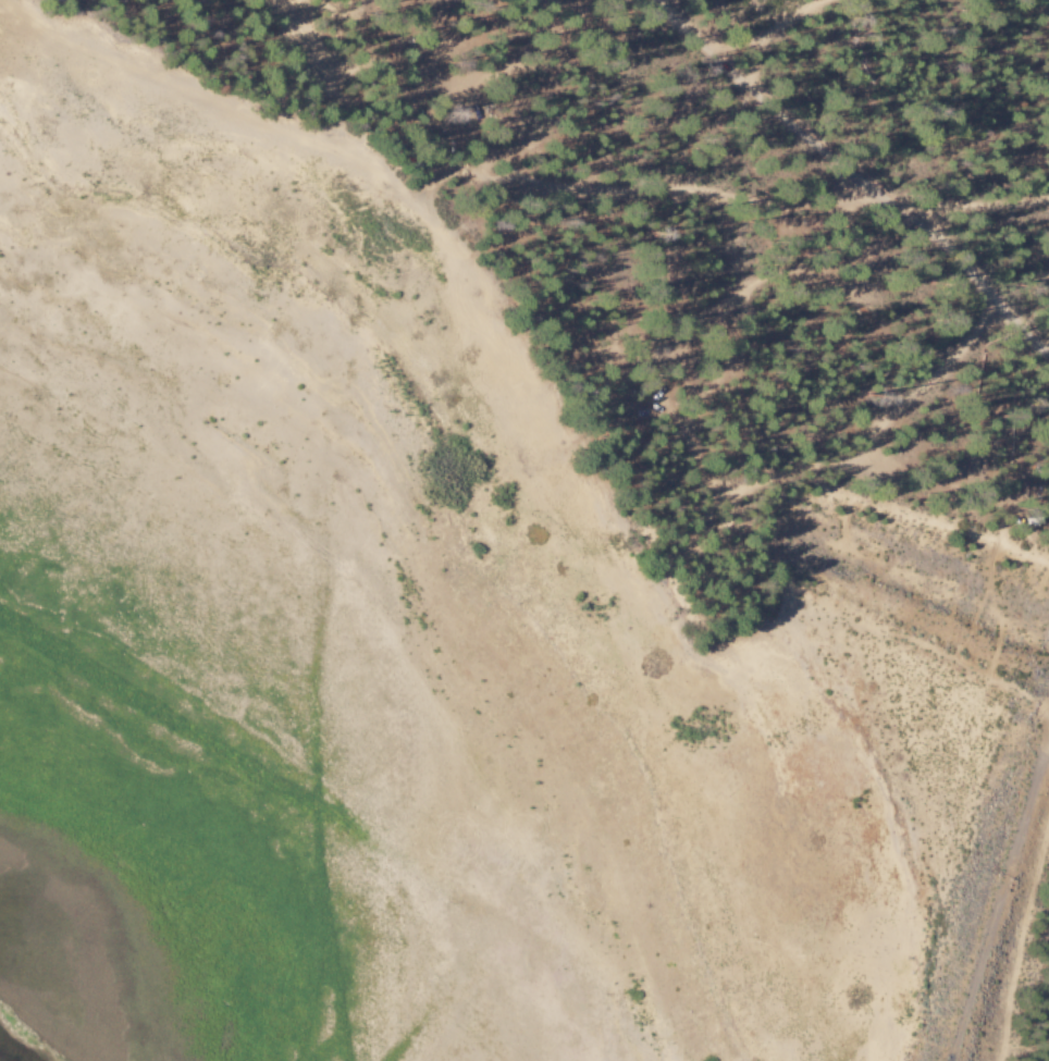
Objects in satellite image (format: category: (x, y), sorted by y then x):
road: (772, 30)
road: (849, 176)
road: (553, 181)
road: (966, 206)
road: (700, 470)

